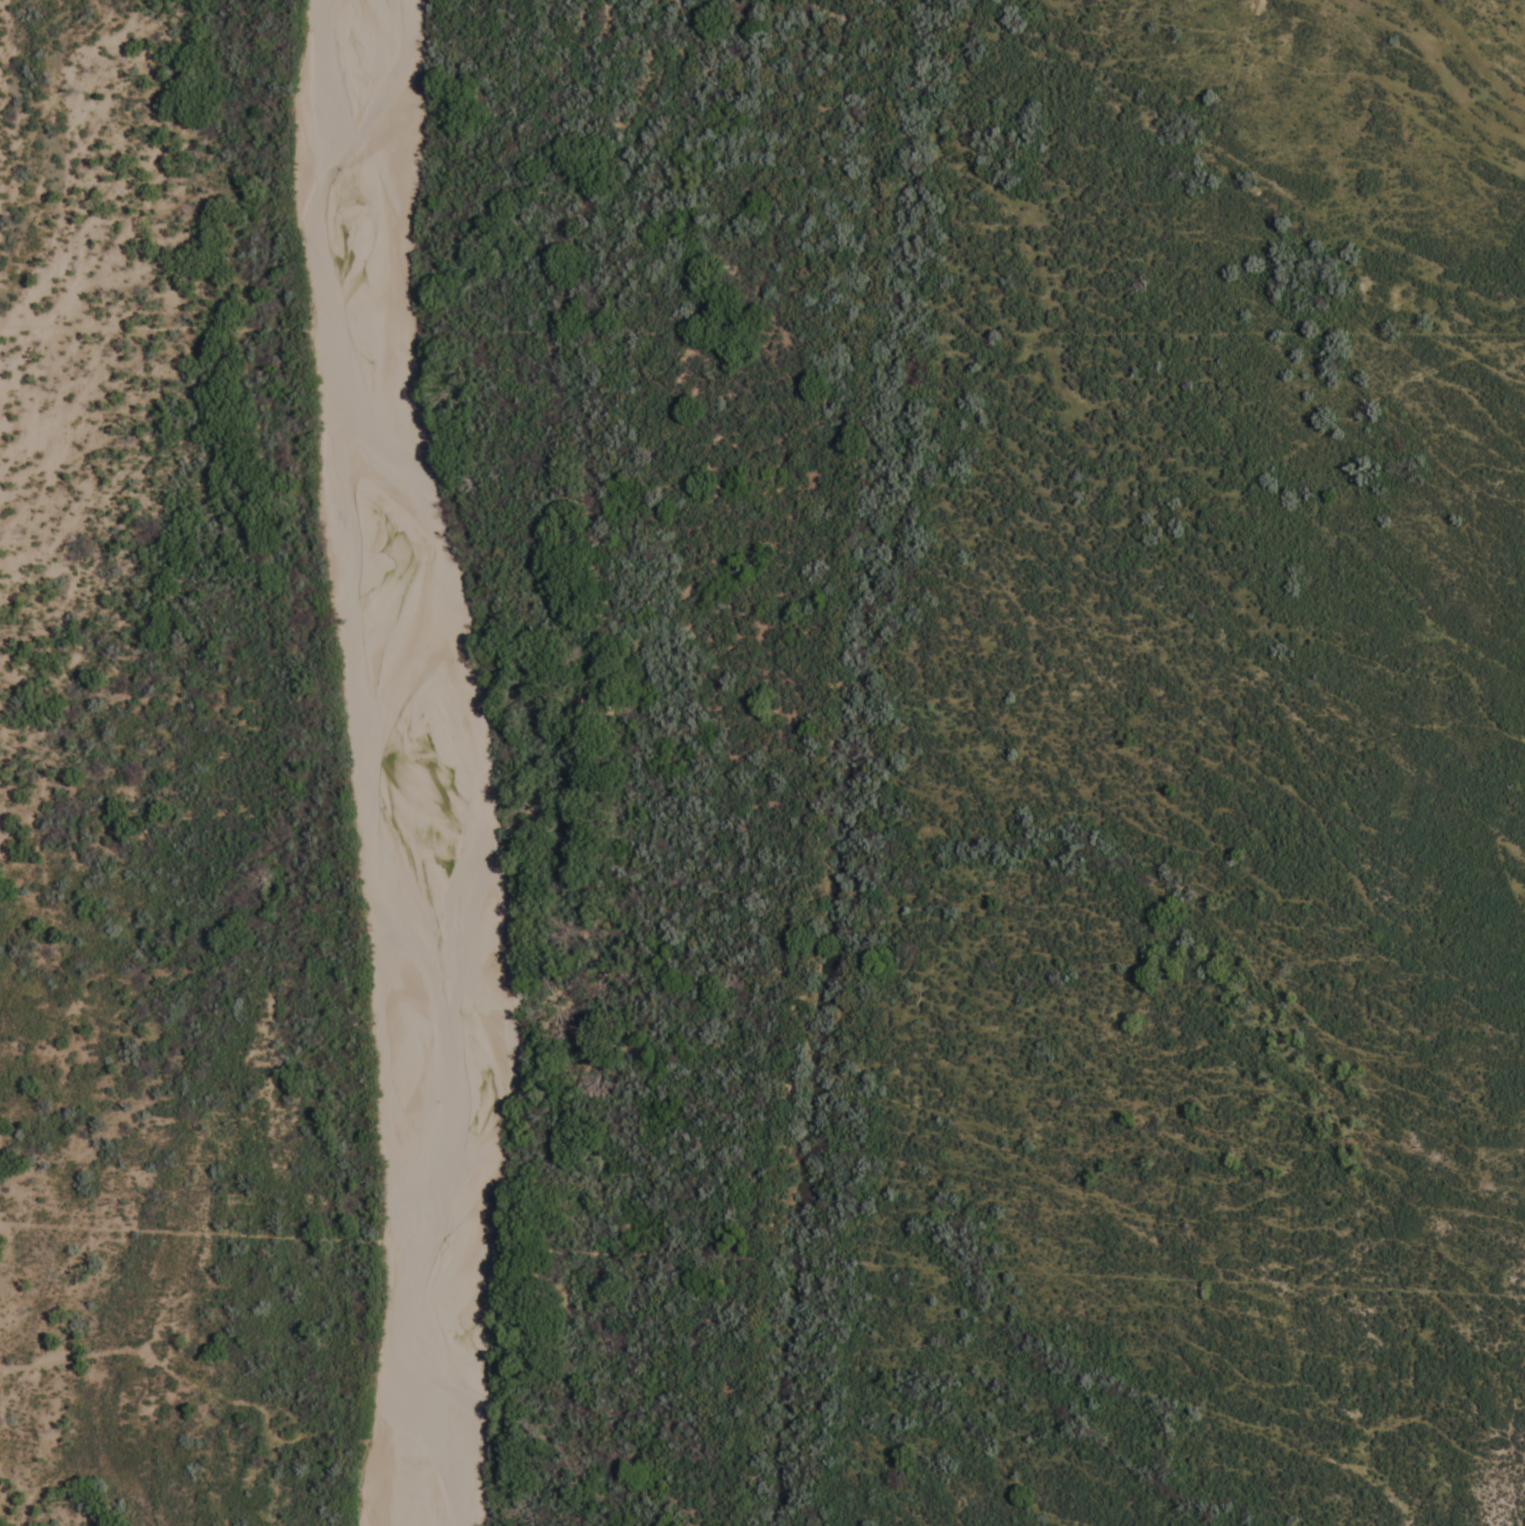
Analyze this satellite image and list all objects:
river: (405, 762)

